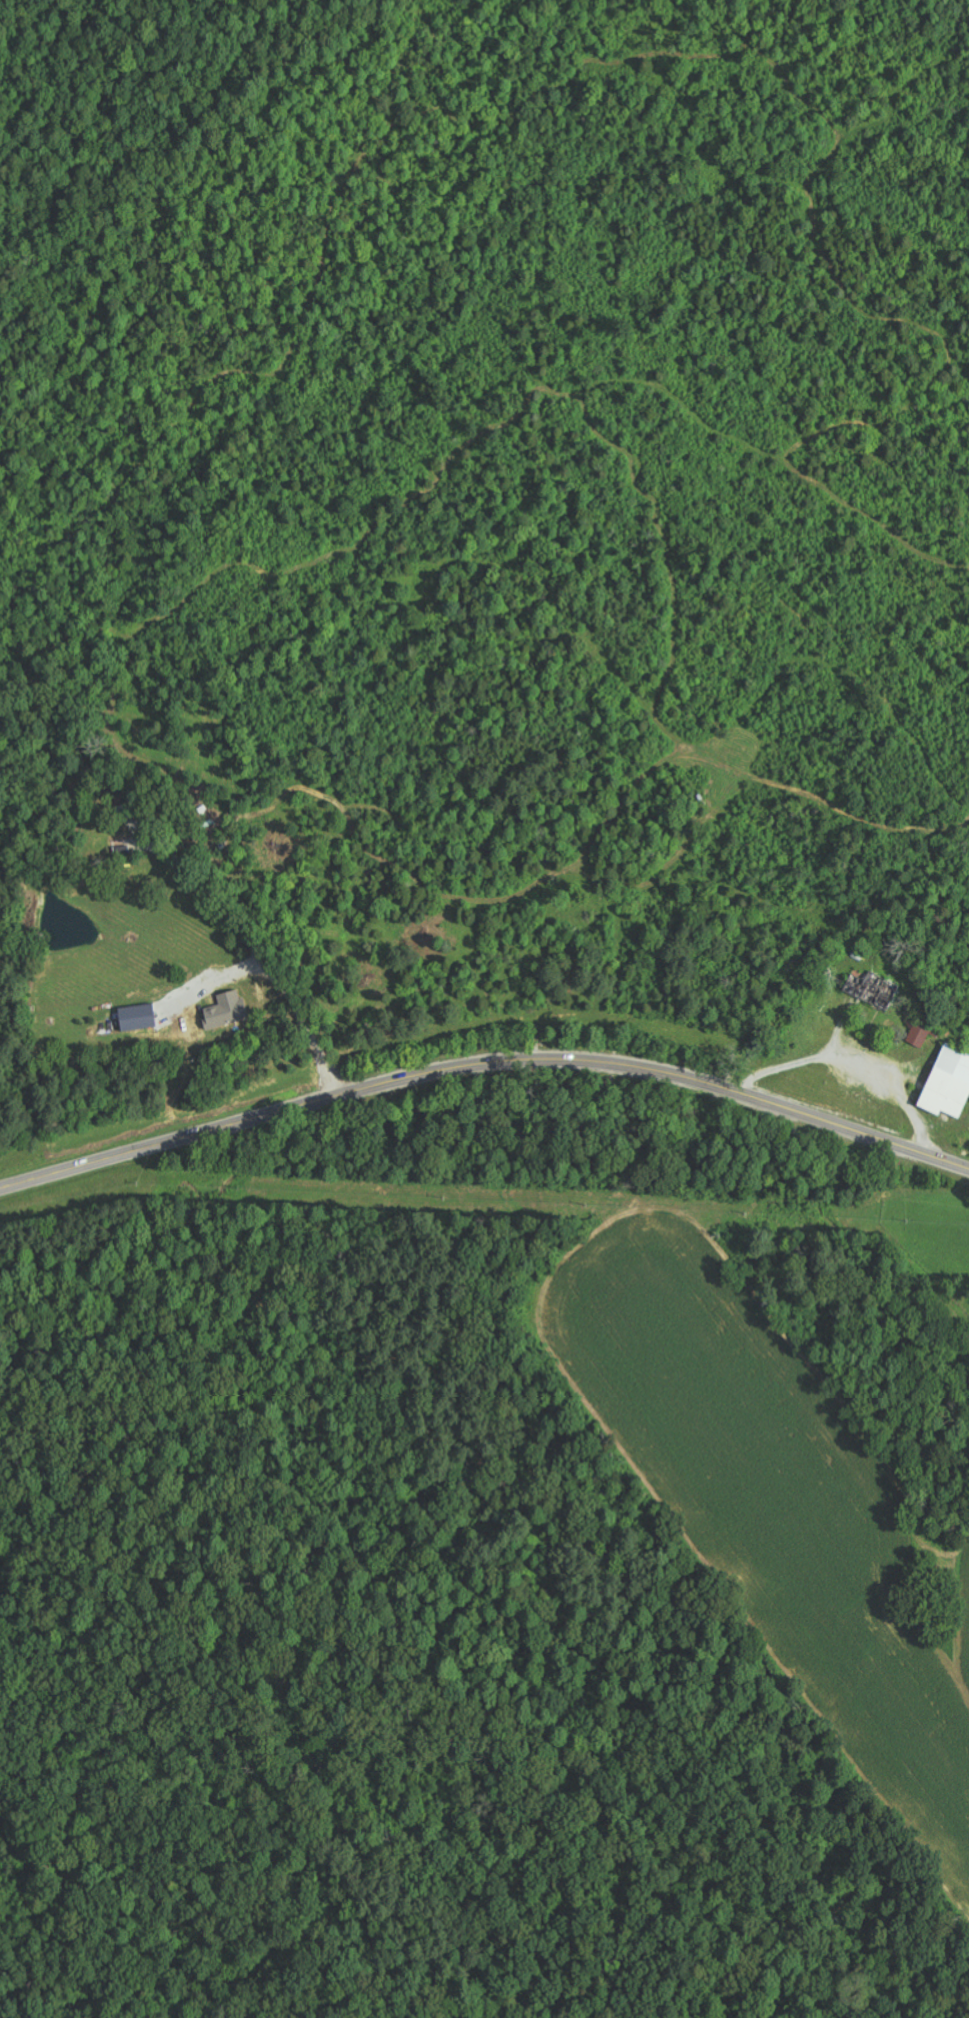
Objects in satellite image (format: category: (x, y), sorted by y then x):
road: (739, 970)
road: (817, 984)
building: (873, 989)
building: (227, 1010)
building: (137, 1017)
building: (922, 1033)
road: (484, 1064)
building: (948, 1083)

